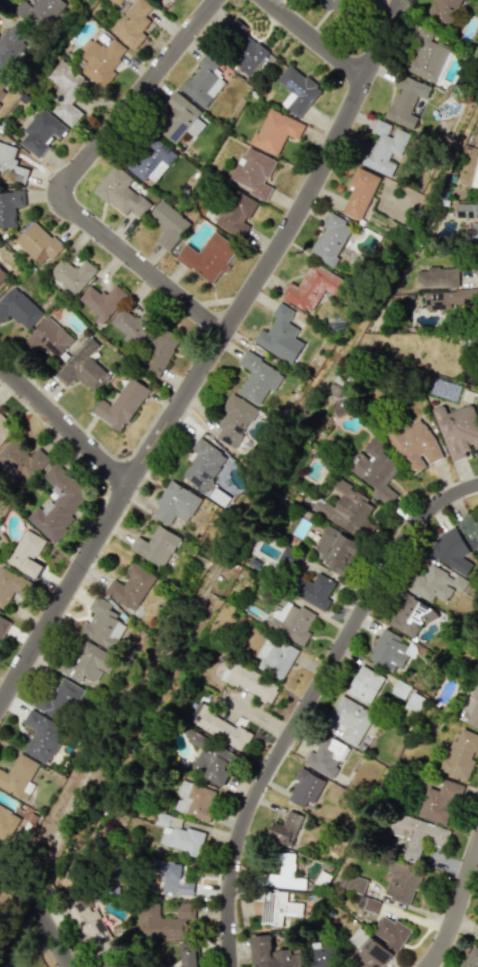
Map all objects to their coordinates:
building: (172, 0)
building: (116, 1)
building: (337, 6)
building: (442, 10)
building: (38, 12)
building: (133, 24)
road: (315, 39)
building: (11, 44)
building: (245, 49)
building: (427, 57)
building: (100, 60)
building: (203, 82)
building: (2, 83)
building: (296, 90)
building: (66, 91)
building: (406, 100)
building: (0, 103)
building: (181, 119)
building: (275, 131)
building: (41, 132)
building: (385, 148)
building: (150, 159)
building: (11, 164)
building: (254, 172)
building: (475, 176)
road: (65, 177)
building: (120, 192)
building: (360, 193)
building: (10, 207)
building: (466, 211)
building: (236, 213)
building: (170, 230)
building: (474, 232)
building: (331, 239)
building: (38, 243)
building: (208, 257)
building: (475, 269)
building: (2, 274)
building: (73, 275)
building: (437, 277)
building: (312, 287)
building: (102, 301)
building: (18, 308)
building: (132, 325)
building: (277, 332)
building: (49, 338)
building: (160, 352)
road: (209, 356)
building: (83, 368)
building: (258, 378)
building: (121, 404)
building: (341, 407)
building: (234, 420)
road: (63, 426)
building: (4, 430)
building: (458, 430)
building: (414, 445)
building: (22, 461)
building: (203, 464)
building: (373, 468)
building: (59, 502)
building: (176, 504)
building: (348, 510)
building: (470, 532)
building: (156, 546)
building: (335, 550)
building: (451, 551)
building: (27, 554)
building: (290, 558)
building: (435, 584)
building: (11, 586)
building: (130, 587)
building: (313, 590)
building: (408, 616)
building: (292, 622)
building: (3, 624)
building: (102, 624)
building: (388, 651)
building: (275, 657)
building: (86, 662)
building: (249, 681)
building: (364, 685)
building: (59, 700)
road: (310, 706)
building: (473, 710)
building: (351, 719)
building: (220, 727)
building: (42, 736)
building: (462, 754)
building: (326, 756)
building: (211, 758)
building: (18, 776)
building: (305, 788)
building: (195, 800)
building: (441, 802)
building: (7, 823)
building: (286, 829)
building: (418, 834)
building: (178, 835)
building: (284, 873)
building: (169, 879)
building: (402, 881)
building: (355, 884)
building: (276, 907)
building: (369, 909)
road: (50, 910)
road: (457, 910)
building: (86, 921)
building: (165, 922)
building: (391, 932)
building: (477, 936)
building: (323, 956)
building: (471, 958)
building: (190, 961)
building: (114, 964)

